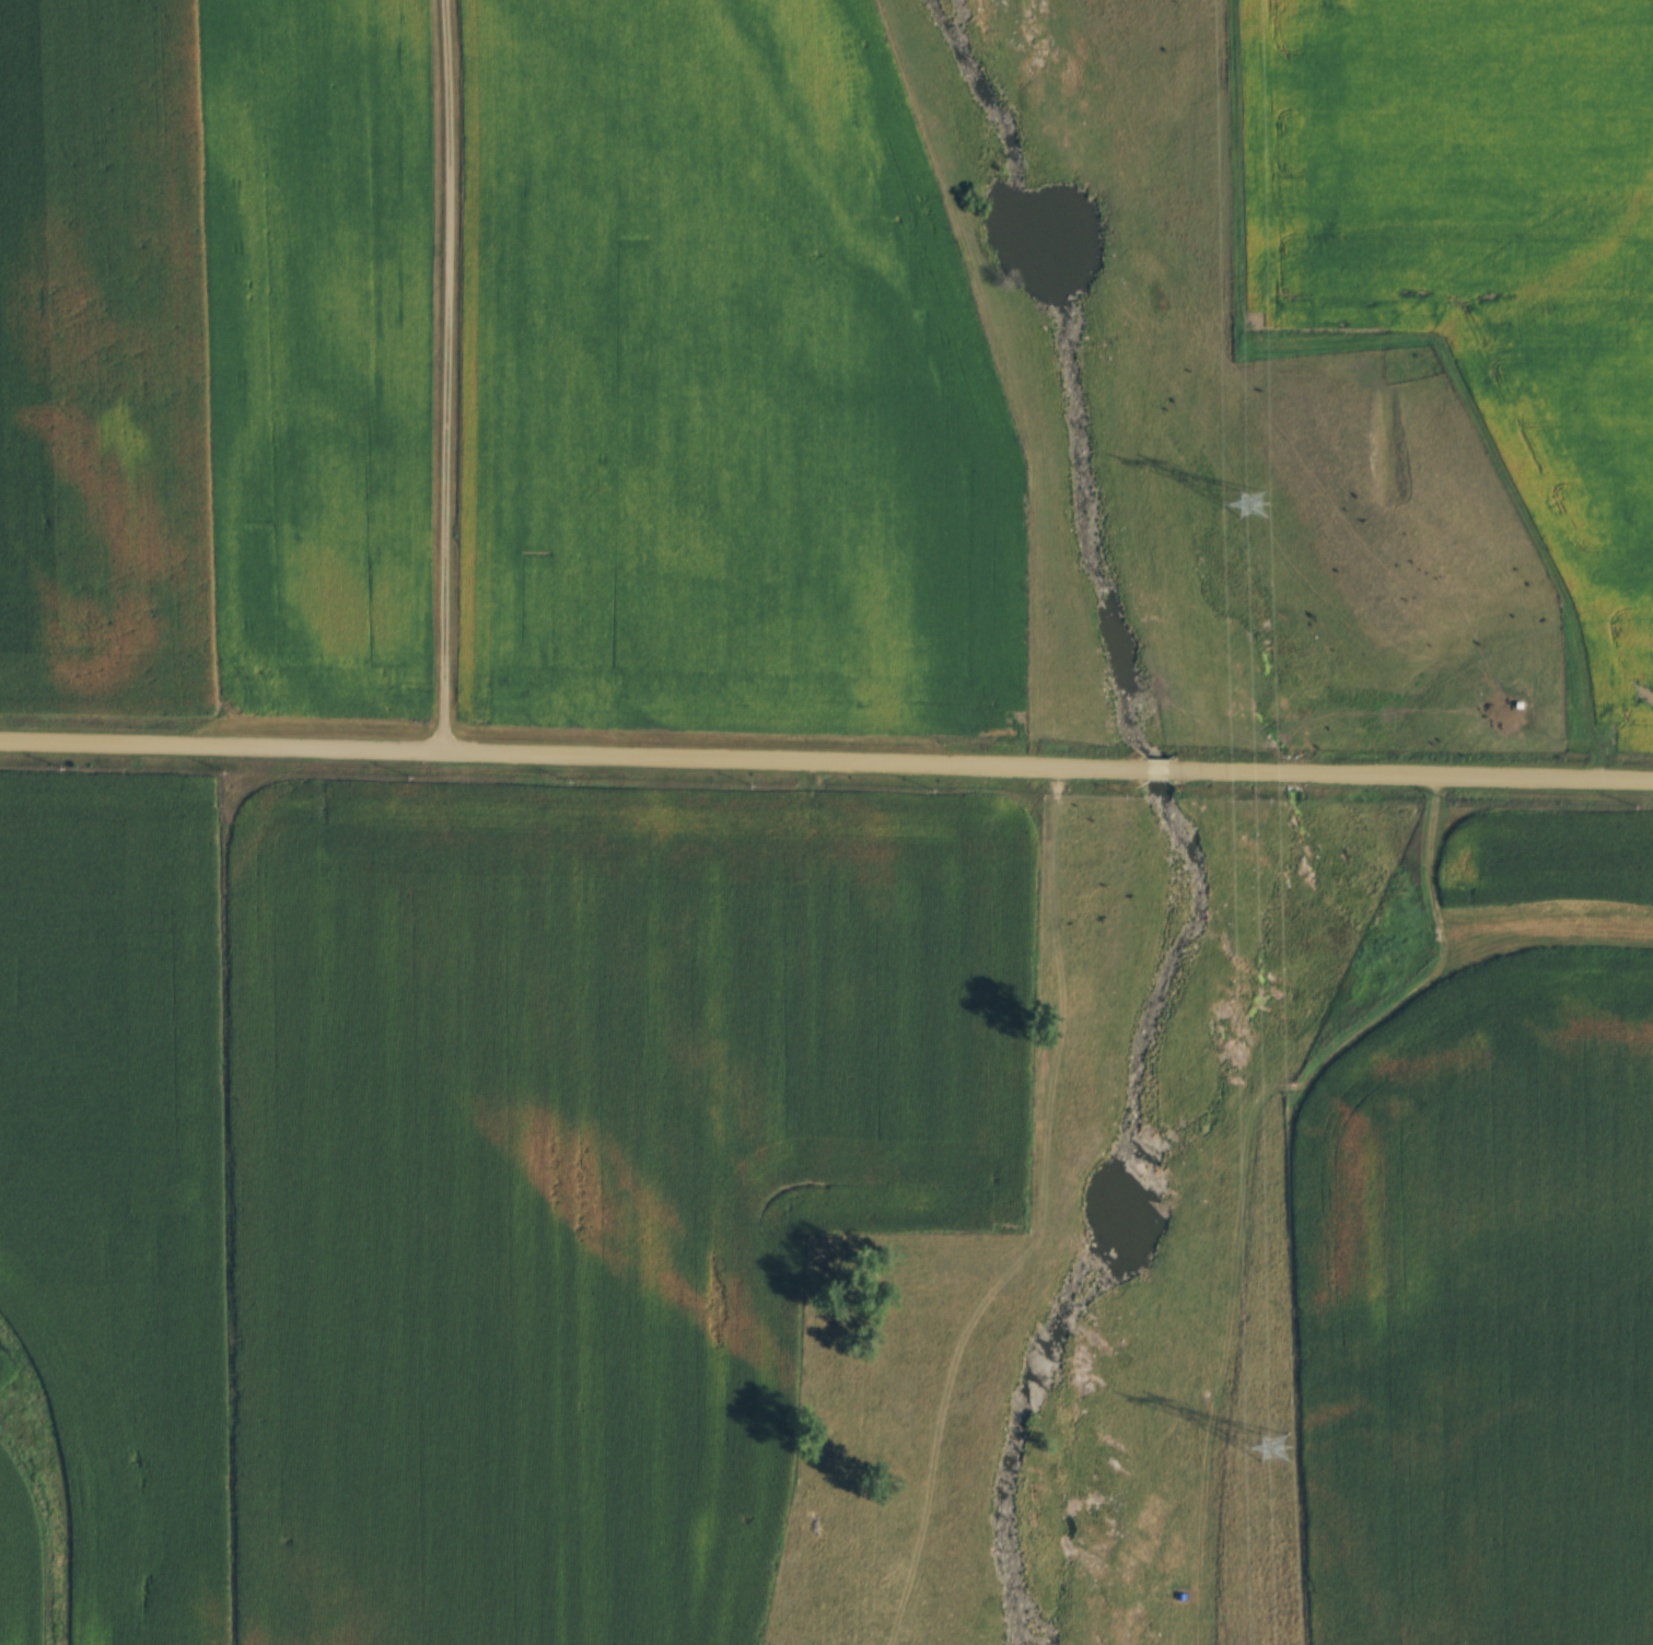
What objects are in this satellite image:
road: (446, 375)
power tower: (1247, 497)
road: (826, 760)
crop: (583, 1180)
power tower: (1269, 1442)
crop: (19, 1560)

